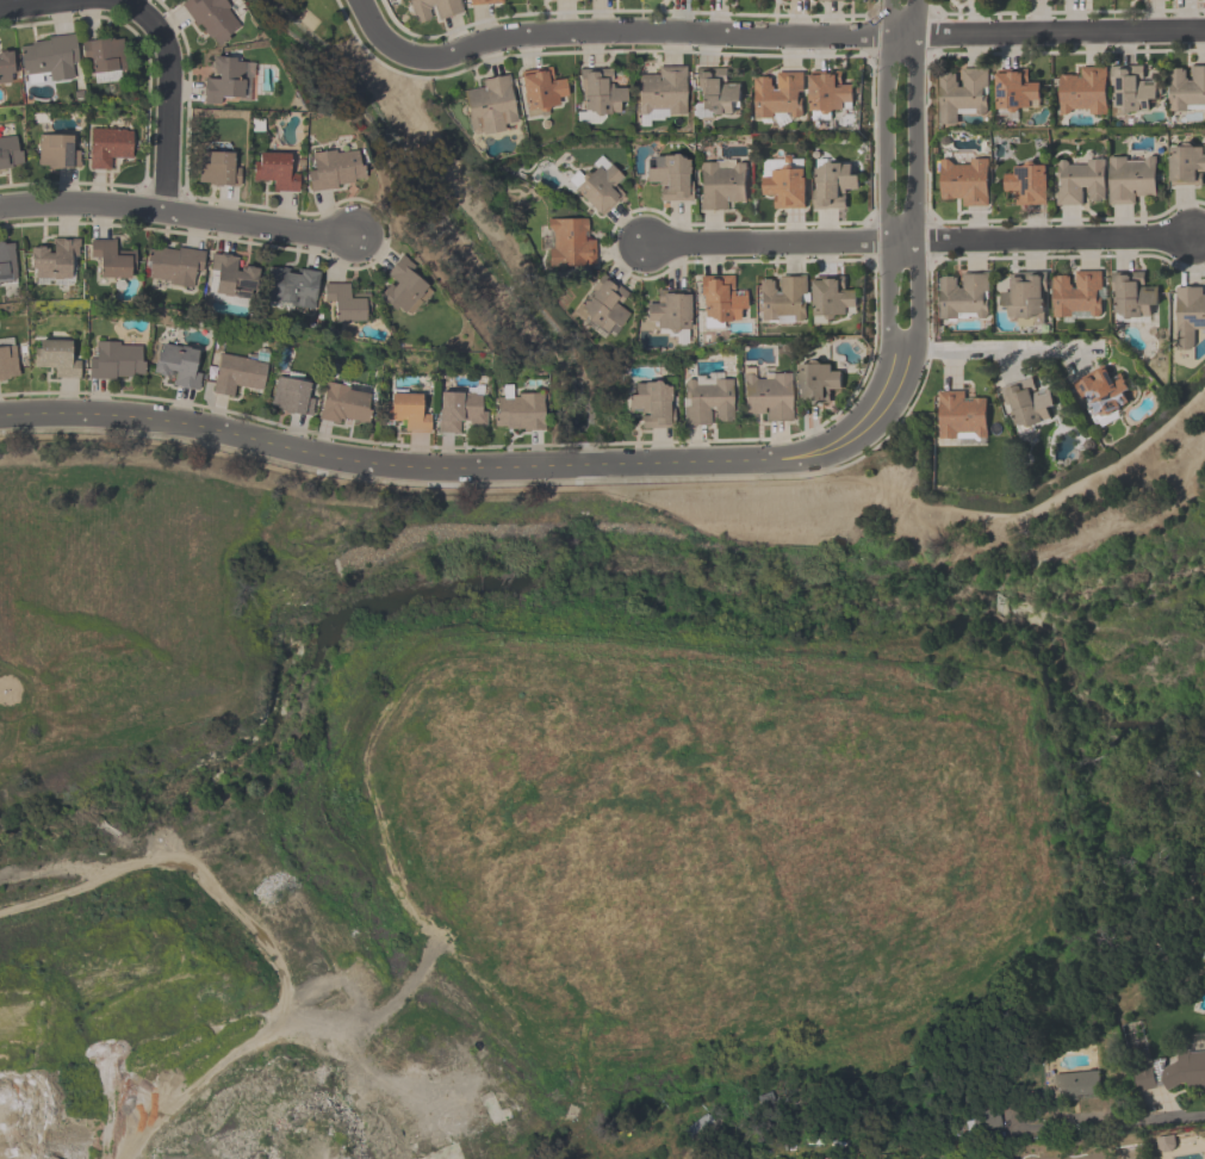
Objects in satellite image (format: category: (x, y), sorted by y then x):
building: (832, 0)
road: (118, 2)
building: (485, 2)
road: (35, 4)
building: (433, 10)
building: (215, 20)
road: (379, 33)
road: (807, 36)
building: (50, 57)
building: (104, 58)
building: (8, 69)
building: (231, 82)
building: (1186, 88)
building: (1014, 89)
building: (1083, 89)
building: (1131, 89)
building: (542, 91)
building: (659, 91)
building: (715, 91)
building: (827, 92)
building: (962, 93)
building: (778, 94)
road: (166, 101)
building: (491, 104)
building: (108, 149)
building: (11, 154)
building: (57, 154)
building: (1186, 165)
building: (334, 171)
building: (218, 172)
building: (275, 174)
building: (669, 178)
building: (1130, 178)
building: (1079, 180)
building: (964, 181)
building: (1026, 184)
building: (720, 185)
building: (832, 185)
building: (785, 186)
building: (597, 188)
road: (176, 215)
road: (888, 219)
road: (917, 230)
road: (915, 240)
building: (567, 243)
building: (112, 261)
building: (7, 264)
building: (55, 264)
building: (174, 266)
building: (231, 281)
building: (291, 289)
building: (403, 289)
building: (1076, 293)
building: (963, 295)
building: (1131, 295)
building: (1025, 296)
building: (781, 297)
building: (831, 297)
building: (718, 299)
building: (344, 305)
building: (601, 308)
building: (1188, 309)
building: (667, 310)
road: (999, 349)
building: (57, 355)
building: (117, 361)
building: (8, 364)
building: (179, 365)
building: (238, 376)
building: (815, 382)
building: (1101, 391)
building: (766, 396)
building: (292, 398)
building: (706, 401)
building: (1026, 402)
building: (347, 404)
building: (651, 404)
building: (460, 410)
building: (409, 411)
building: (518, 413)
building: (959, 414)
road: (846, 438)
road: (418, 466)
road: (623, 488)
building: (1186, 1071)
building: (1145, 1079)
building: (1079, 1085)
road: (1116, 1124)

